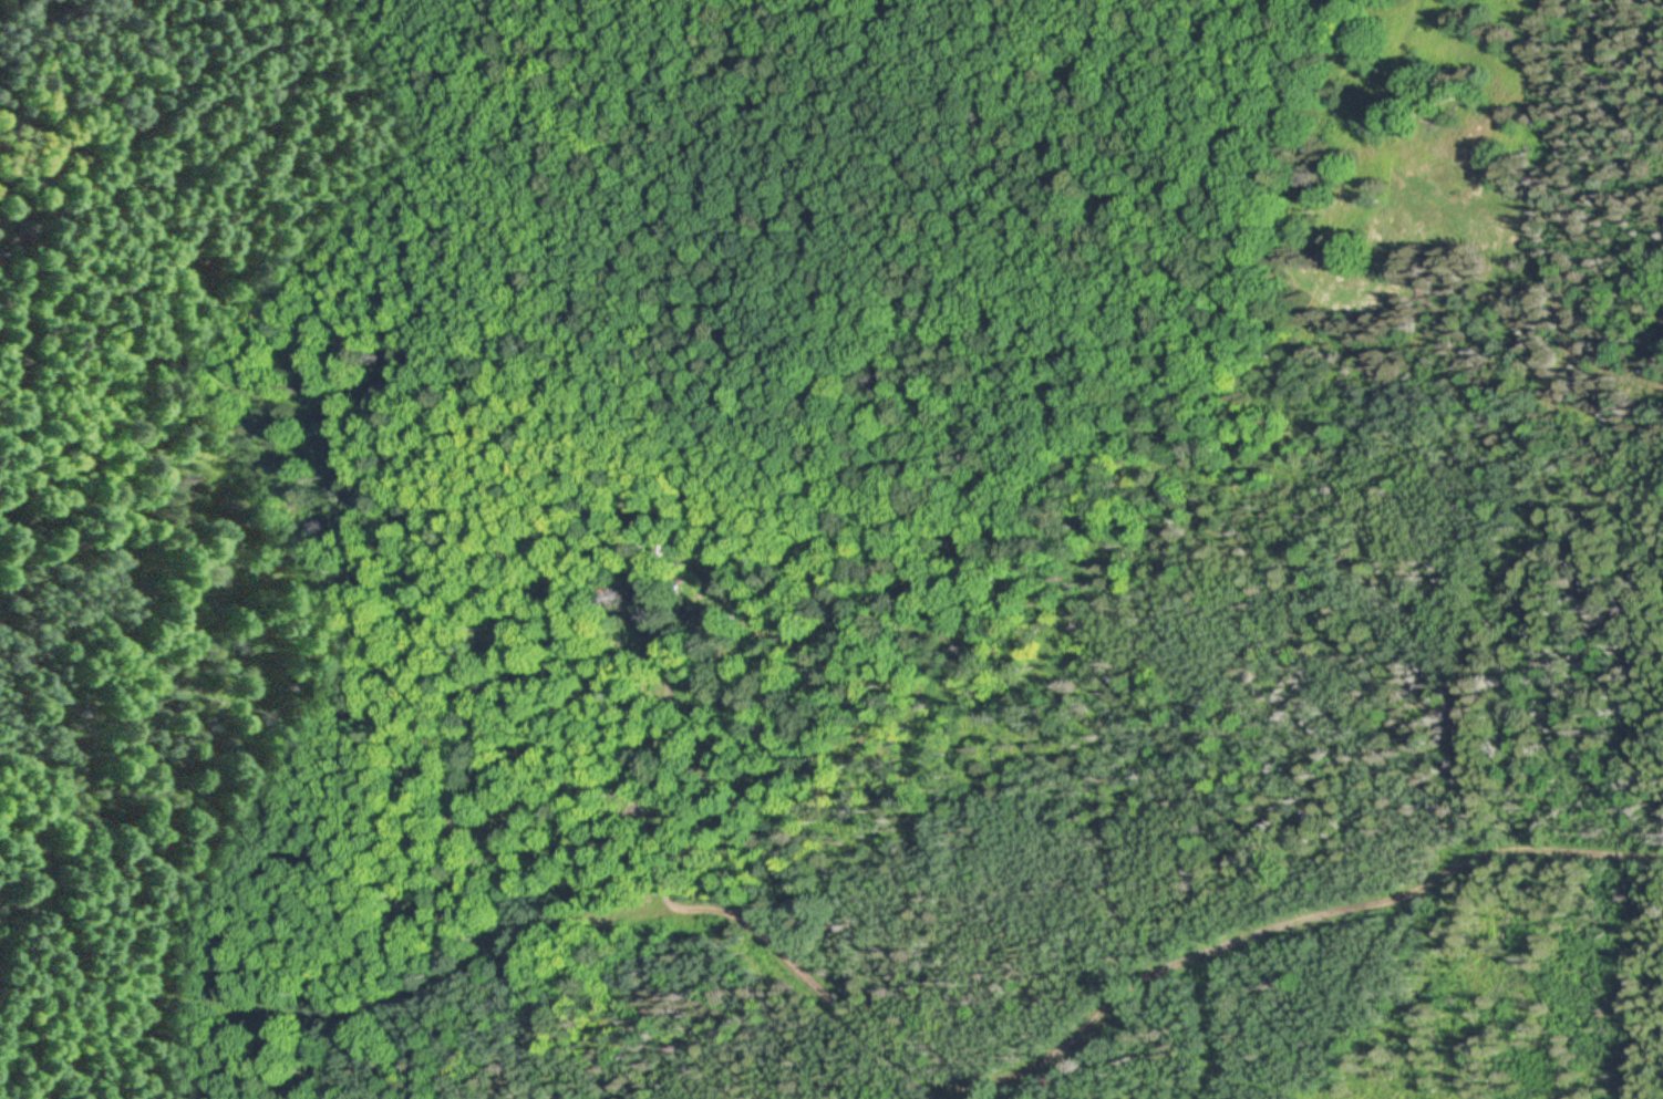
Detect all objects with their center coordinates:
road: (1264, 207)

